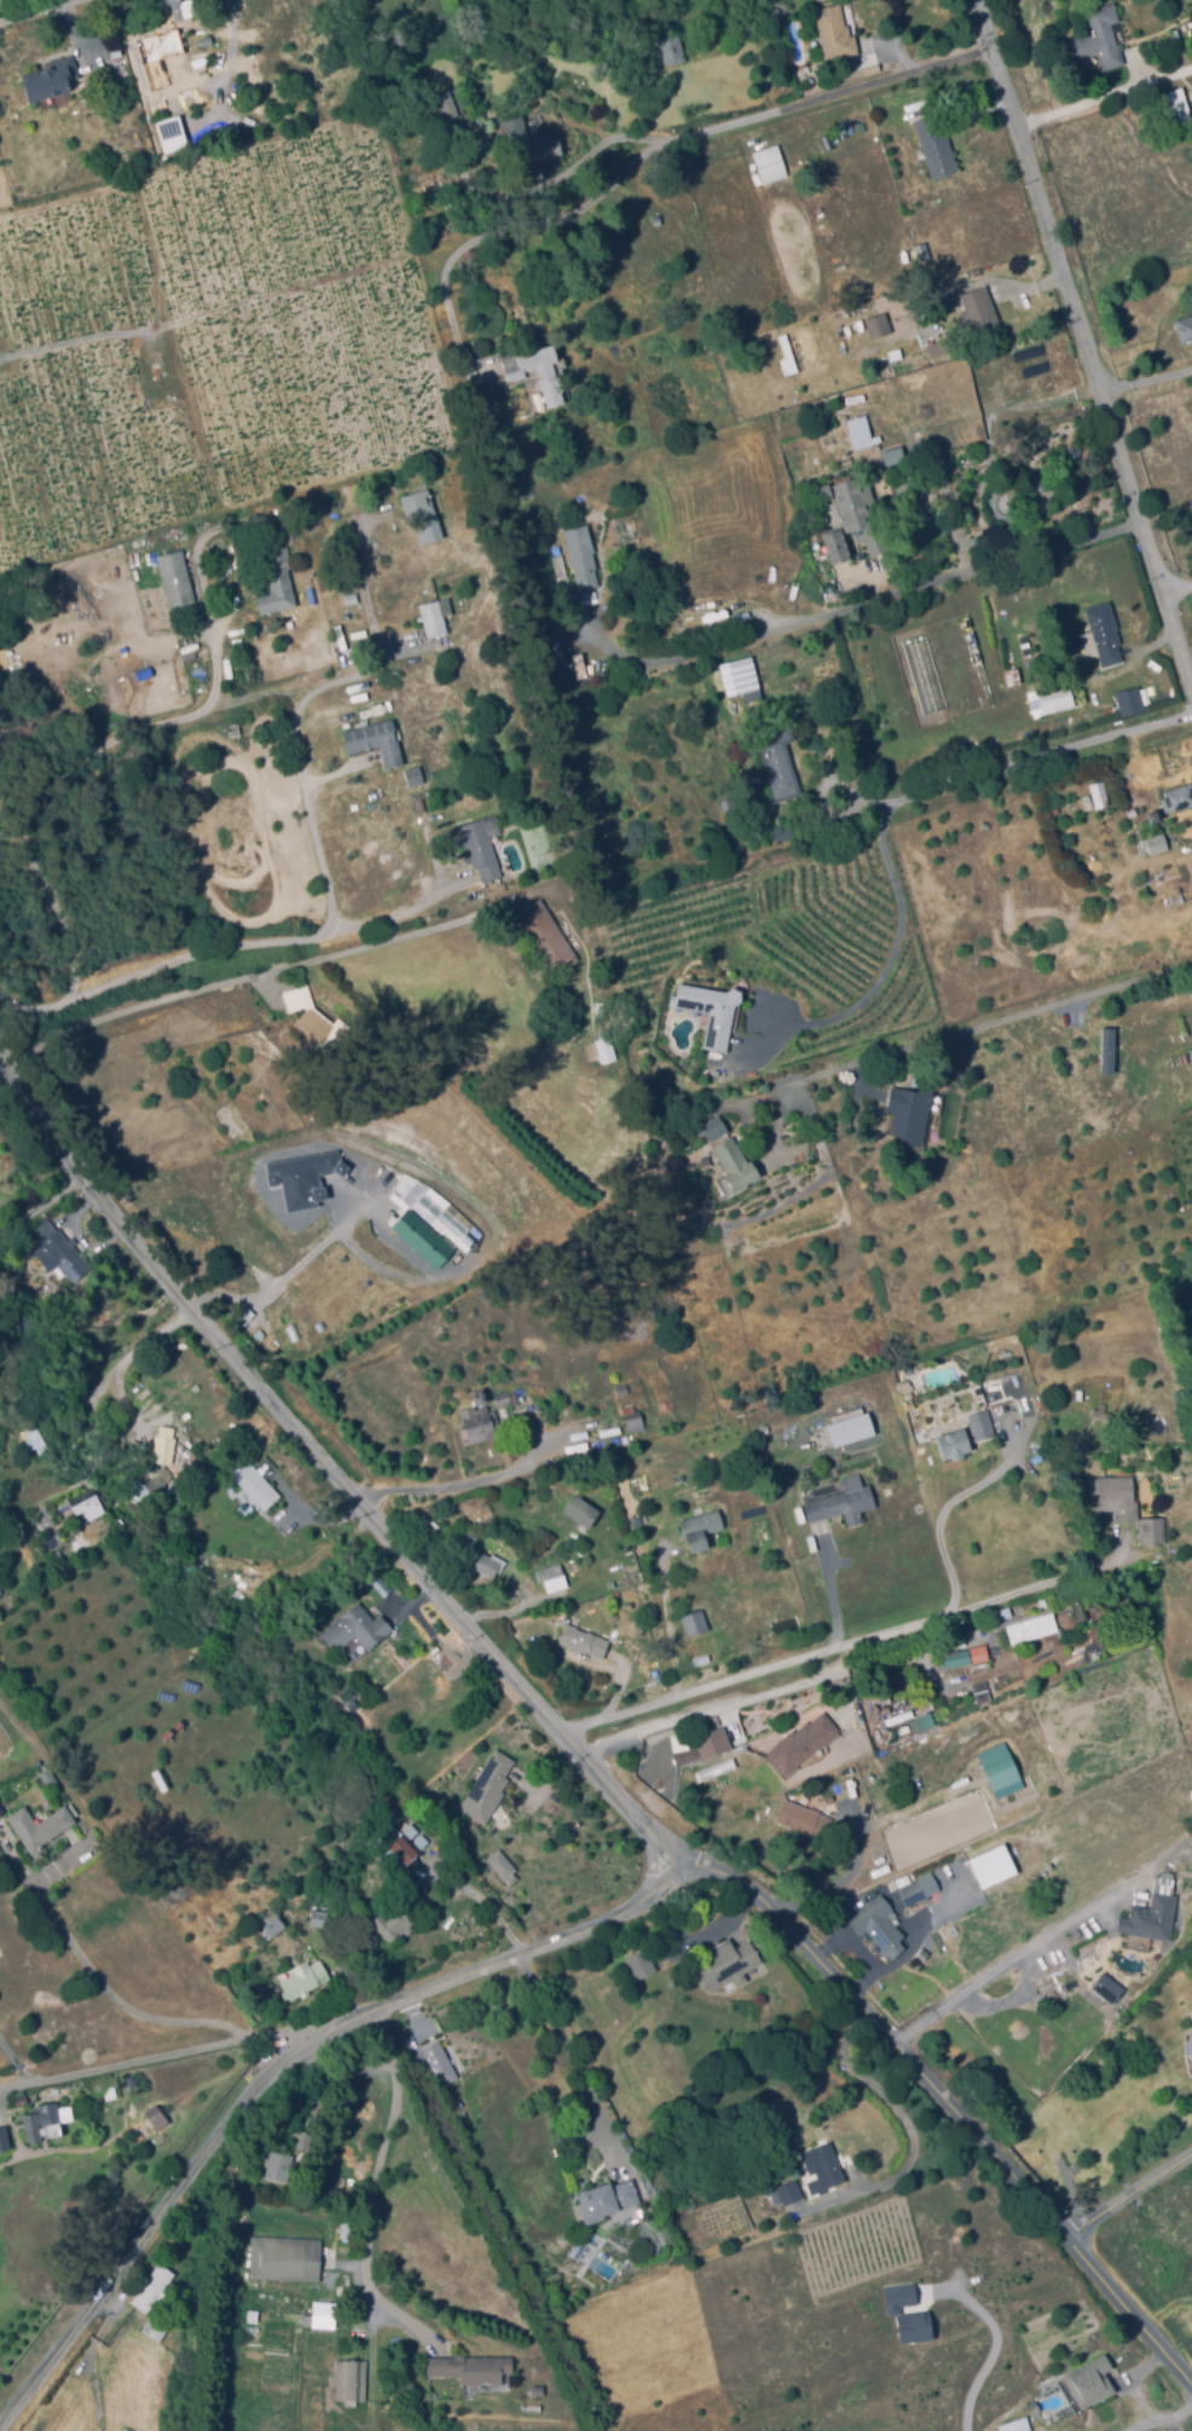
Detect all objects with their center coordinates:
building: (181, 7)
road: (33, 10)
building: (777, 12)
building: (264, 16)
building: (834, 31)
building: (1098, 37)
building: (156, 47)
building: (672, 48)
building: (52, 77)
road: (1105, 92)
building: (445, 104)
road: (787, 105)
building: (1173, 106)
building: (548, 145)
building: (937, 145)
building: (771, 162)
building: (656, 218)
road: (514, 225)
building: (924, 256)
building: (982, 313)
building: (878, 324)
building: (1185, 325)
road: (1087, 333)
building: (941, 346)
building: (538, 370)
road: (1148, 383)
building: (860, 431)
building: (890, 456)
building: (856, 512)
building: (423, 513)
building: (336, 543)
building: (835, 545)
building: (583, 553)
building: (175, 578)
building: (565, 579)
building: (278, 582)
road: (369, 587)
road: (1180, 588)
road: (851, 606)
building: (432, 617)
building: (1101, 633)
road: (397, 647)
building: (1013, 674)
building: (740, 675)
road: (254, 693)
building: (1053, 697)
building: (1129, 705)
building: (235, 728)
building: (375, 738)
road: (108, 740)
building: (776, 758)
road: (334, 770)
building: (411, 776)
building: (1100, 793)
building: (1179, 796)
building: (1087, 801)
building: (1069, 802)
building: (421, 803)
building: (730, 805)
building: (1132, 809)
road: (885, 818)
building: (785, 830)
building: (1158, 841)
building: (479, 844)
road: (392, 914)
road: (320, 932)
building: (544, 936)
road: (241, 982)
building: (712, 1009)
building: (316, 1015)
road: (965, 1028)
building: (607, 1045)
building: (1191, 1050)
building: (910, 1111)
building: (714, 1126)
building: (737, 1163)
building: (301, 1178)
road: (45, 1214)
building: (442, 1218)
building: (419, 1237)
building: (62, 1245)
road: (291, 1274)
building: (341, 1280)
building: (244, 1311)
building: (297, 1312)
road: (139, 1345)
building: (623, 1388)
building: (508, 1396)
building: (666, 1403)
building: (1103, 1411)
building: (635, 1417)
building: (481, 1421)
building: (982, 1422)
building: (851, 1427)
building: (955, 1443)
building: (166, 1453)
building: (158, 1483)
road: (457, 1483)
building: (250, 1485)
building: (139, 1489)
building: (536, 1491)
building: (1118, 1494)
building: (843, 1501)
building: (93, 1506)
building: (578, 1512)
road: (943, 1513)
building: (434, 1524)
building: (701, 1528)
building: (1152, 1528)
building: (189, 1561)
building: (491, 1564)
building: (554, 1575)
building: (245, 1580)
road: (839, 1590)
building: (696, 1622)
building: (1035, 1629)
building: (351, 1633)
building: (585, 1641)
building: (985, 1653)
road: (811, 1663)
building: (953, 1664)
building: (918, 1722)
building: (712, 1740)
building: (803, 1740)
building: (1001, 1772)
building: (51, 1777)
building: (484, 1791)
road: (926, 1802)
building: (0, 1806)
road: (632, 1814)
building: (1, 1817)
building: (806, 1820)
building: (41, 1830)
building: (1028, 1830)
building: (404, 1841)
building: (504, 1865)
building: (1049, 1865)
building: (990, 1866)
road: (650, 1869)
road: (838, 1882)
building: (919, 1887)
road: (488, 1904)
building: (316, 1918)
building: (273, 1919)
building: (328, 1921)
building: (394, 1921)
building: (1147, 1921)
building: (874, 1929)
building: (637, 1965)
building: (724, 1967)
road: (1008, 1968)
building: (306, 1979)
building: (1104, 1991)
road: (118, 2003)
road: (573, 2058)
road: (17, 2062)
road: (151, 2062)
building: (436, 2066)
road: (947, 2103)
building: (157, 2120)
building: (50, 2124)
building: (303, 2138)
building: (5, 2142)
building: (279, 2165)
building: (823, 2166)
building: (1067, 2189)
building: (789, 2190)
road: (377, 2198)
road: (1130, 2200)
building: (601, 2202)
building: (723, 2208)
building: (290, 2258)
building: (154, 2287)
building: (897, 2297)
building: (910, 2326)
building: (155, 2328)
road: (991, 2354)
road: (91, 2360)
building: (467, 2369)
building: (352, 2378)
building: (1090, 2380)
building: (533, 2392)
road: (1140, 2398)
building: (1015, 2425)
road: (1141, 2426)

